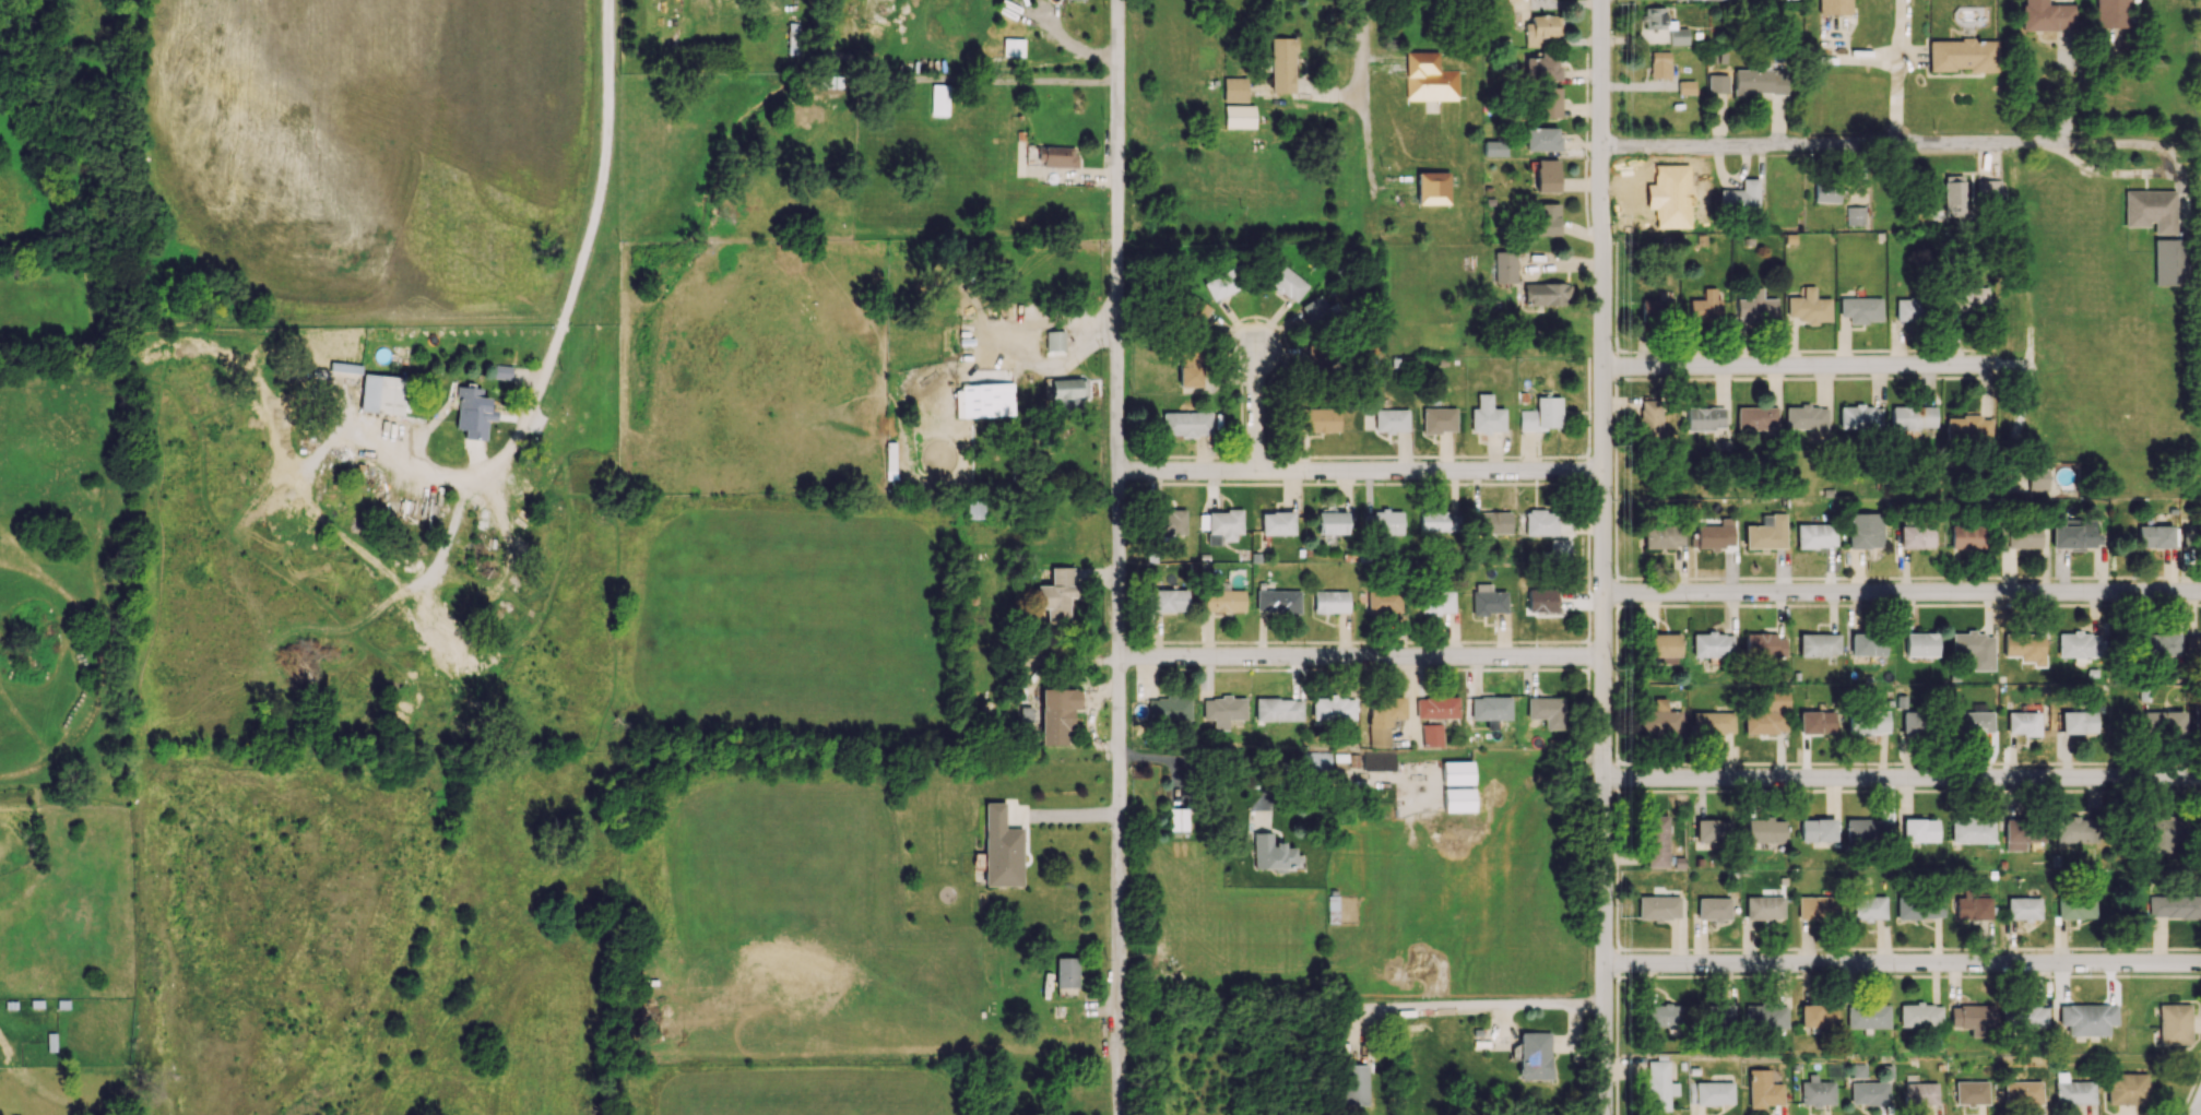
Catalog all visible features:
building: (1691, 0)
building: (1834, 7)
building: (2111, 14)
building: (2047, 15)
building: (1664, 25)
building: (1542, 29)
building: (1963, 55)
building: (1281, 64)
building: (1659, 64)
building: (1540, 67)
road: (1902, 74)
building: (1429, 78)
building: (1760, 82)
building: (1717, 83)
building: (1685, 87)
building: (1234, 90)
road: (2068, 96)
building: (939, 99)
road: (1362, 99)
building: (1548, 102)
building: (1239, 116)
road: (2064, 127)
building: (1541, 139)
building: (1494, 147)
road: (1880, 149)
building: (1056, 156)
building: (1547, 176)
building: (1432, 188)
building: (1988, 189)
building: (1826, 193)
building: (1740, 198)
building: (2150, 210)
building: (1855, 215)
building: (1545, 218)
building: (2168, 262)
building: (1504, 266)
road: (579, 283)
building: (1223, 283)
building: (1287, 283)
building: (1545, 294)
building: (1969, 298)
building: (1706, 307)
building: (1755, 307)
building: (1808, 307)
building: (1657, 309)
building: (1860, 309)
building: (1907, 309)
building: (1195, 311)
building: (1316, 311)
road: (2030, 313)
building: (1054, 340)
road: (1799, 368)
building: (1187, 369)
building: (501, 371)
building: (1067, 388)
building: (381, 394)
building: (994, 400)
building: (960, 403)
road: (1253, 408)
building: (472, 412)
building: (1486, 415)
building: (1541, 415)
building: (1806, 417)
building: (1913, 417)
building: (1650, 418)
building: (1705, 418)
building: (1756, 418)
building: (1860, 418)
building: (1318, 419)
building: (1437, 419)
building: (1391, 420)
building: (1185, 423)
building: (1967, 428)
road: (1361, 472)
building: (2037, 477)
building: (1437, 521)
building: (1169, 522)
building: (1330, 522)
building: (1381, 522)
building: (1493, 522)
building: (1541, 522)
building: (1276, 523)
building: (1222, 525)
building: (1865, 530)
building: (1766, 532)
building: (1714, 534)
building: (1917, 534)
building: (2073, 534)
building: (2191, 534)
building: (1815, 535)
building: (1966, 535)
building: (1664, 536)
building: (2021, 536)
building: (2154, 536)
road: (1120, 557)
road: (1602, 557)
building: (1056, 594)
road: (1902, 595)
building: (1222, 598)
building: (1488, 600)
building: (1167, 601)
building: (1277, 601)
building: (1329, 601)
building: (1382, 601)
building: (1541, 601)
building: (1435, 602)
building: (1712, 644)
building: (1819, 644)
building: (1867, 644)
building: (1920, 644)
building: (1664, 645)
building: (1764, 645)
building: (2078, 645)
building: (2157, 647)
building: (2192, 647)
building: (2025, 648)
building: (1975, 649)
road: (1361, 659)
building: (1435, 707)
building: (1333, 708)
building: (1277, 709)
building: (1490, 709)
building: (1169, 710)
building: (1222, 710)
building: (1546, 711)
building: (2197, 713)
building: (1057, 714)
building: (1767, 714)
building: (1383, 719)
building: (1659, 719)
building: (2163, 721)
building: (1817, 722)
building: (1868, 722)
building: (1910, 722)
building: (2088, 722)
building: (1713, 723)
building: (1974, 723)
building: (2020, 723)
building: (1431, 735)
road: (1222, 760)
building: (1317, 760)
building: (1378, 760)
building: (1456, 772)
road: (1903, 782)
building: (1456, 799)
building: (1178, 819)
road: (1056, 820)
building: (1712, 830)
building: (1817, 830)
building: (1868, 830)
building: (1919, 830)
building: (1972, 830)
building: (2075, 830)
building: (1765, 831)
building: (2164, 832)
building: (2021, 834)
building: (1656, 841)
building: (1001, 849)
building: (1270, 853)
building: (1764, 906)
building: (1920, 906)
building: (2075, 906)
building: (2174, 906)
building: (1658, 908)
building: (1714, 908)
building: (1815, 908)
building: (1868, 908)
building: (1972, 908)
building: (2023, 908)
road: (1902, 966)
building: (1066, 972)
road: (1482, 1008)
building: (1716, 1015)
building: (1919, 1015)
building: (1817, 1016)
building: (2023, 1016)
building: (1867, 1017)
building: (1764, 1018)
building: (1972, 1018)
building: (2086, 1019)
building: (2174, 1023)
building: (1534, 1055)
building: (1354, 1084)
building: (1658, 1086)
building: (2127, 1088)
building: (1763, 1089)
building: (2074, 1090)
building: (2023, 1091)
building: (1712, 1092)
building: (1817, 1092)
building: (1972, 1092)
building: (1869, 1093)
building: (1920, 1093)
road: (2197, 1110)

